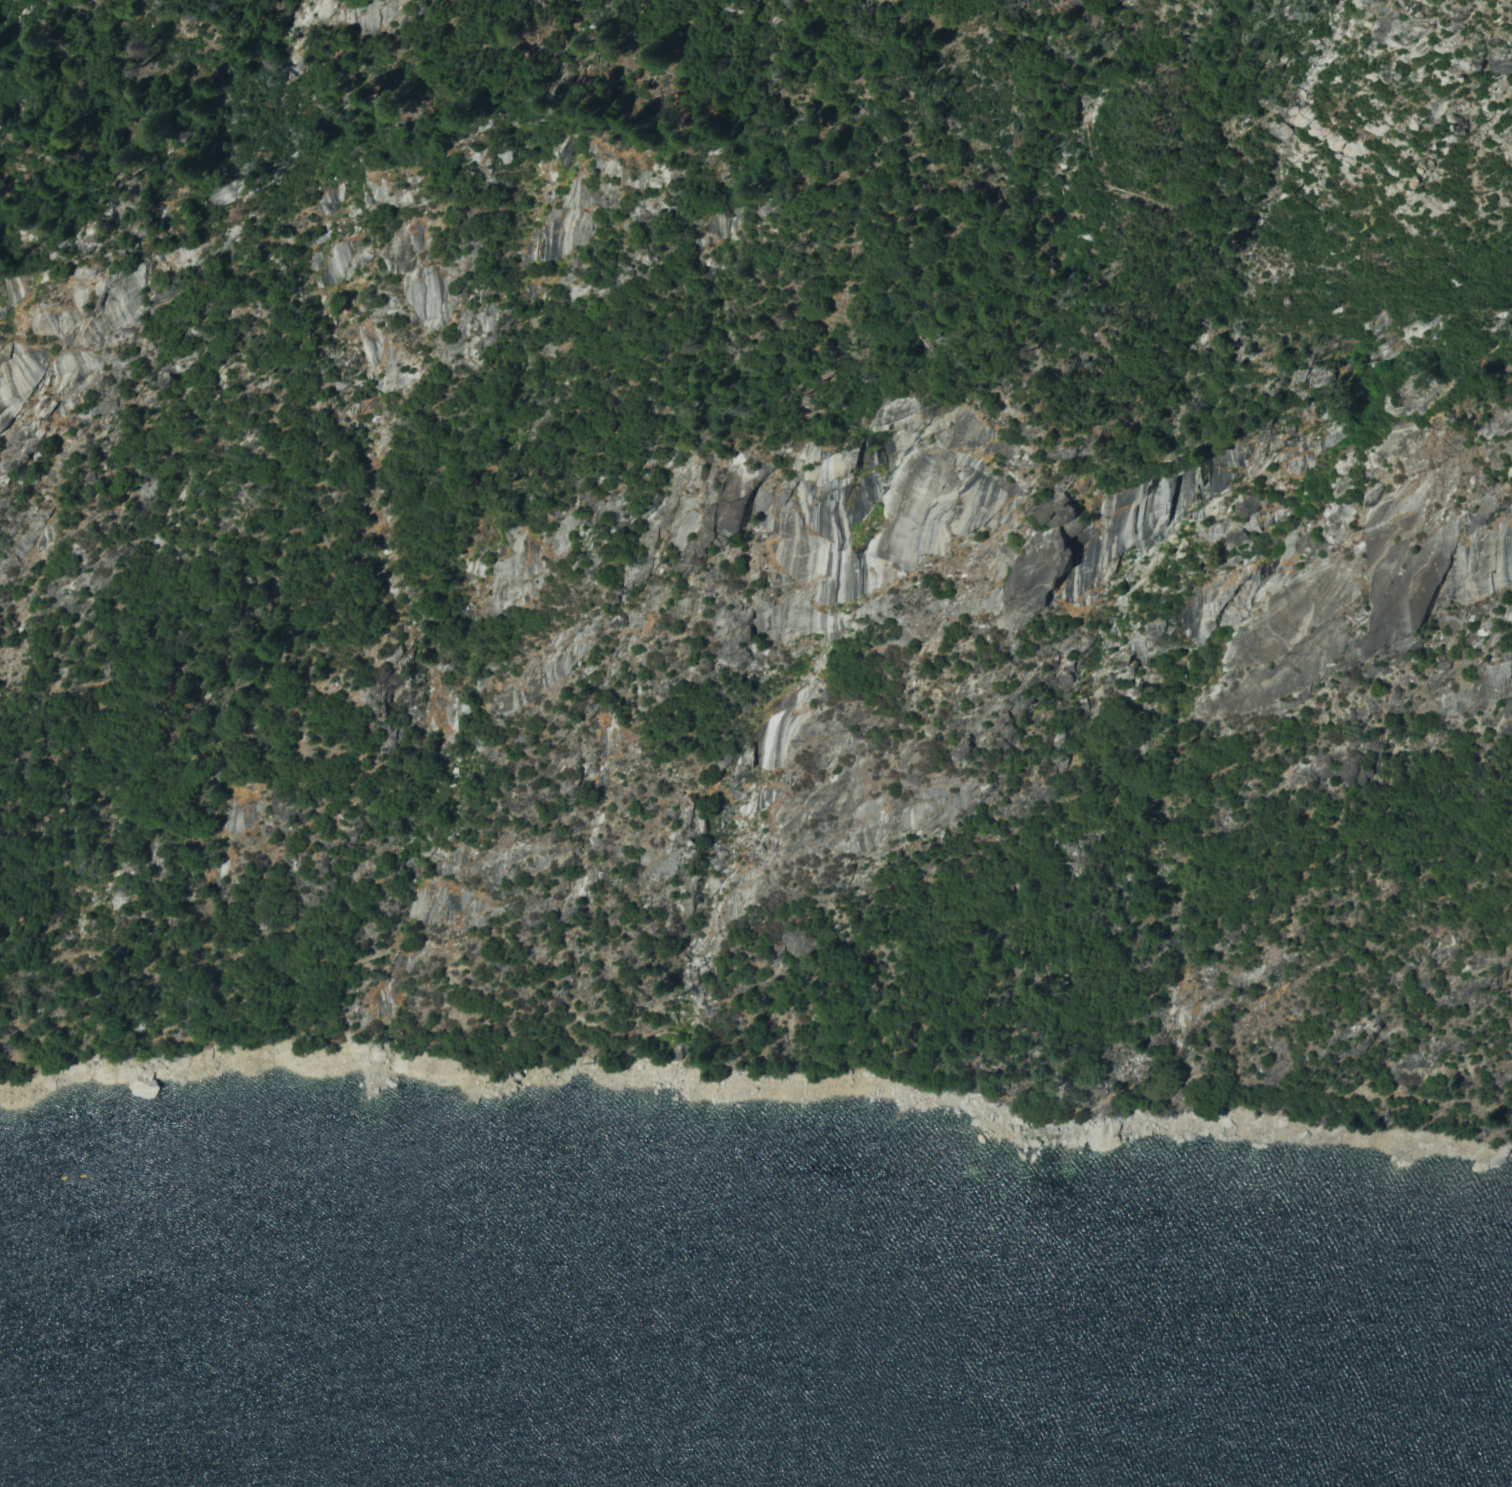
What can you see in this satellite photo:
road: (754, 1048)

